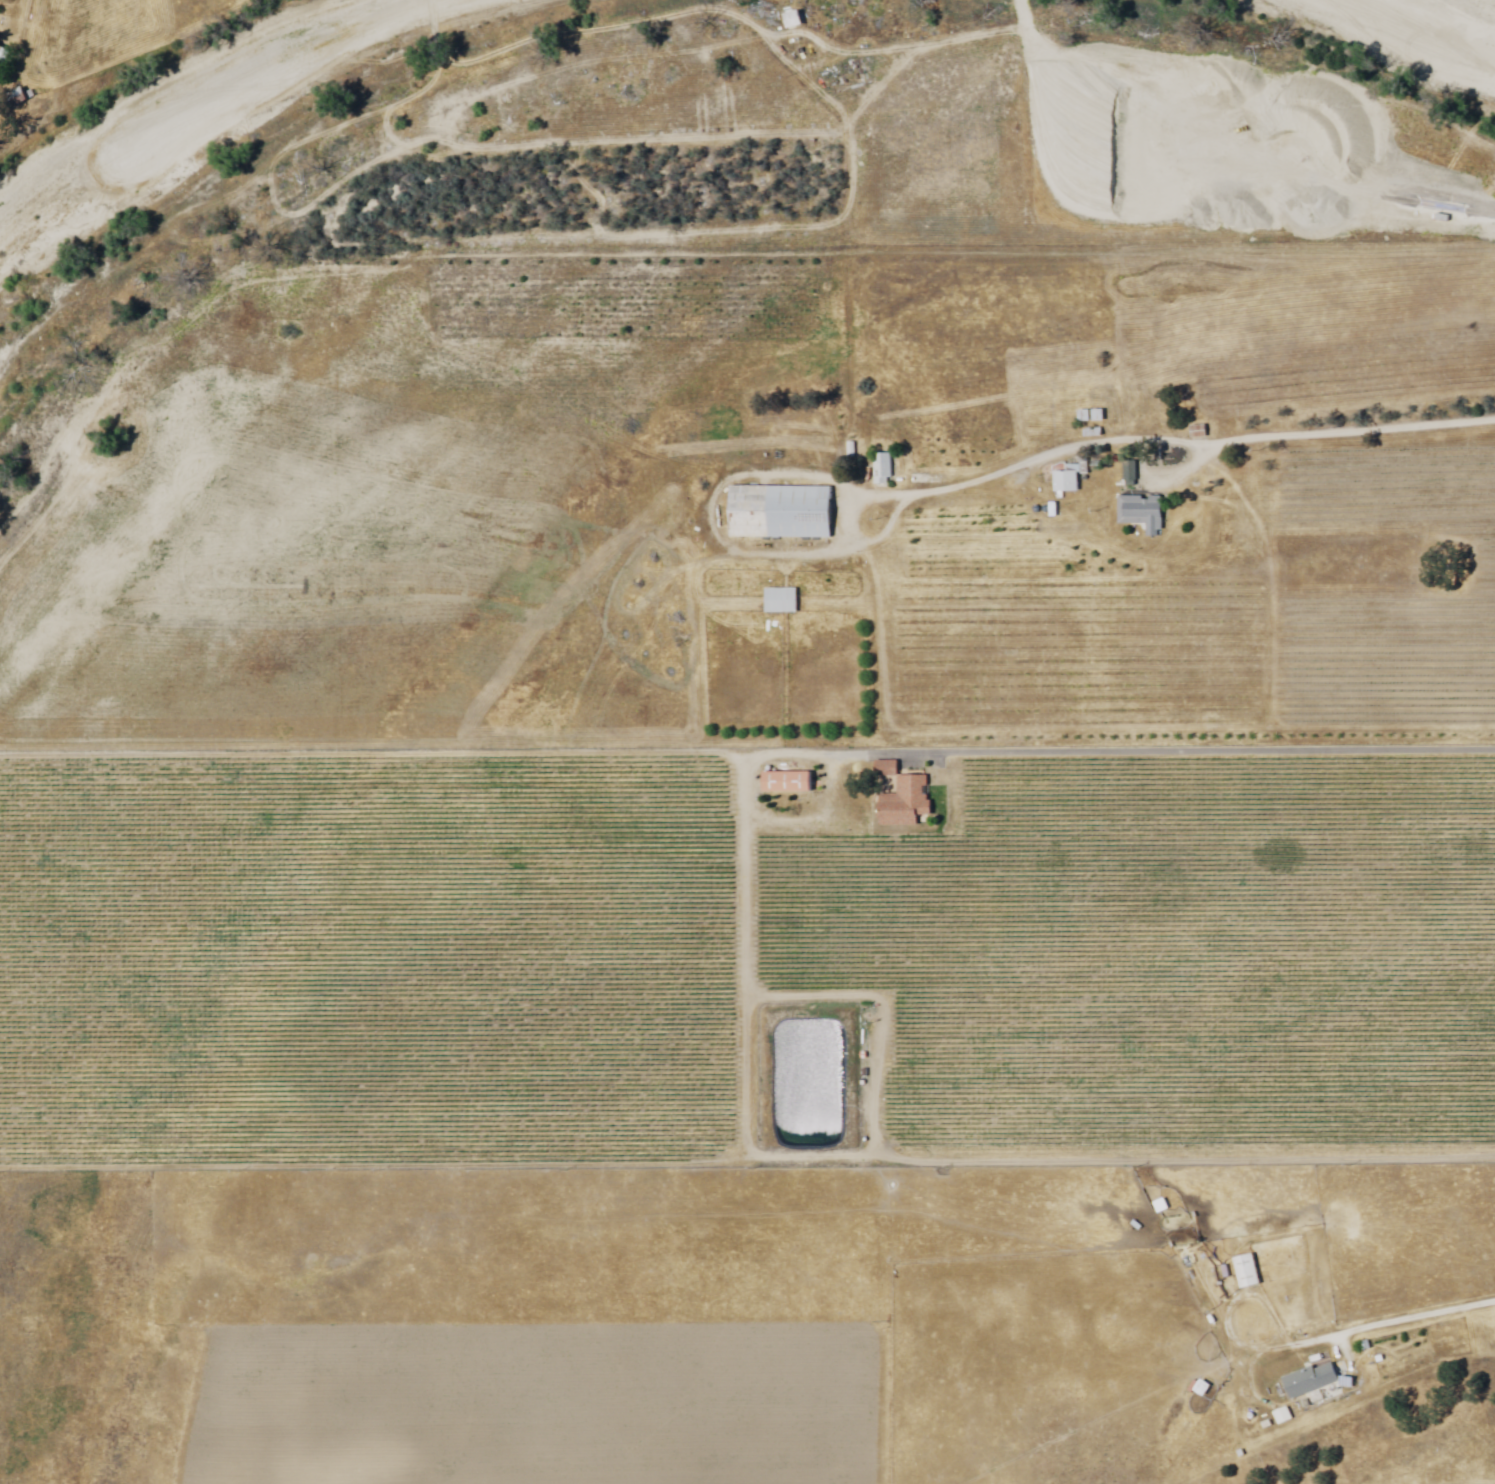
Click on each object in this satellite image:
river: (1465, 18)
building: (795, 19)
building: (4, 59)
river: (289, 81)
building: (1100, 415)
building: (1086, 416)
building: (1201, 431)
road: (1328, 431)
building: (853, 449)
building: (885, 469)
building: (1131, 472)
building: (871, 473)
building: (1071, 479)
building: (780, 512)
building: (1150, 513)
building: (785, 602)
building: (792, 783)
building: (905, 800)
building: (1246, 1271)
road: (1416, 1319)
building: (1310, 1382)
building: (1282, 1417)

